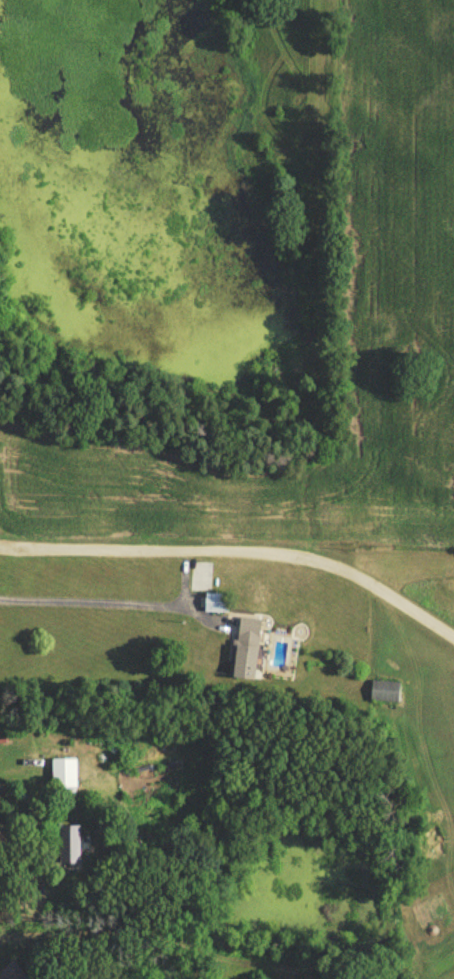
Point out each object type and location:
road: (237, 553)
road: (93, 605)
building: (219, 606)
building: (250, 651)
building: (387, 694)
building: (67, 777)
building: (72, 849)
road: (104, 954)
building: (20, 976)

